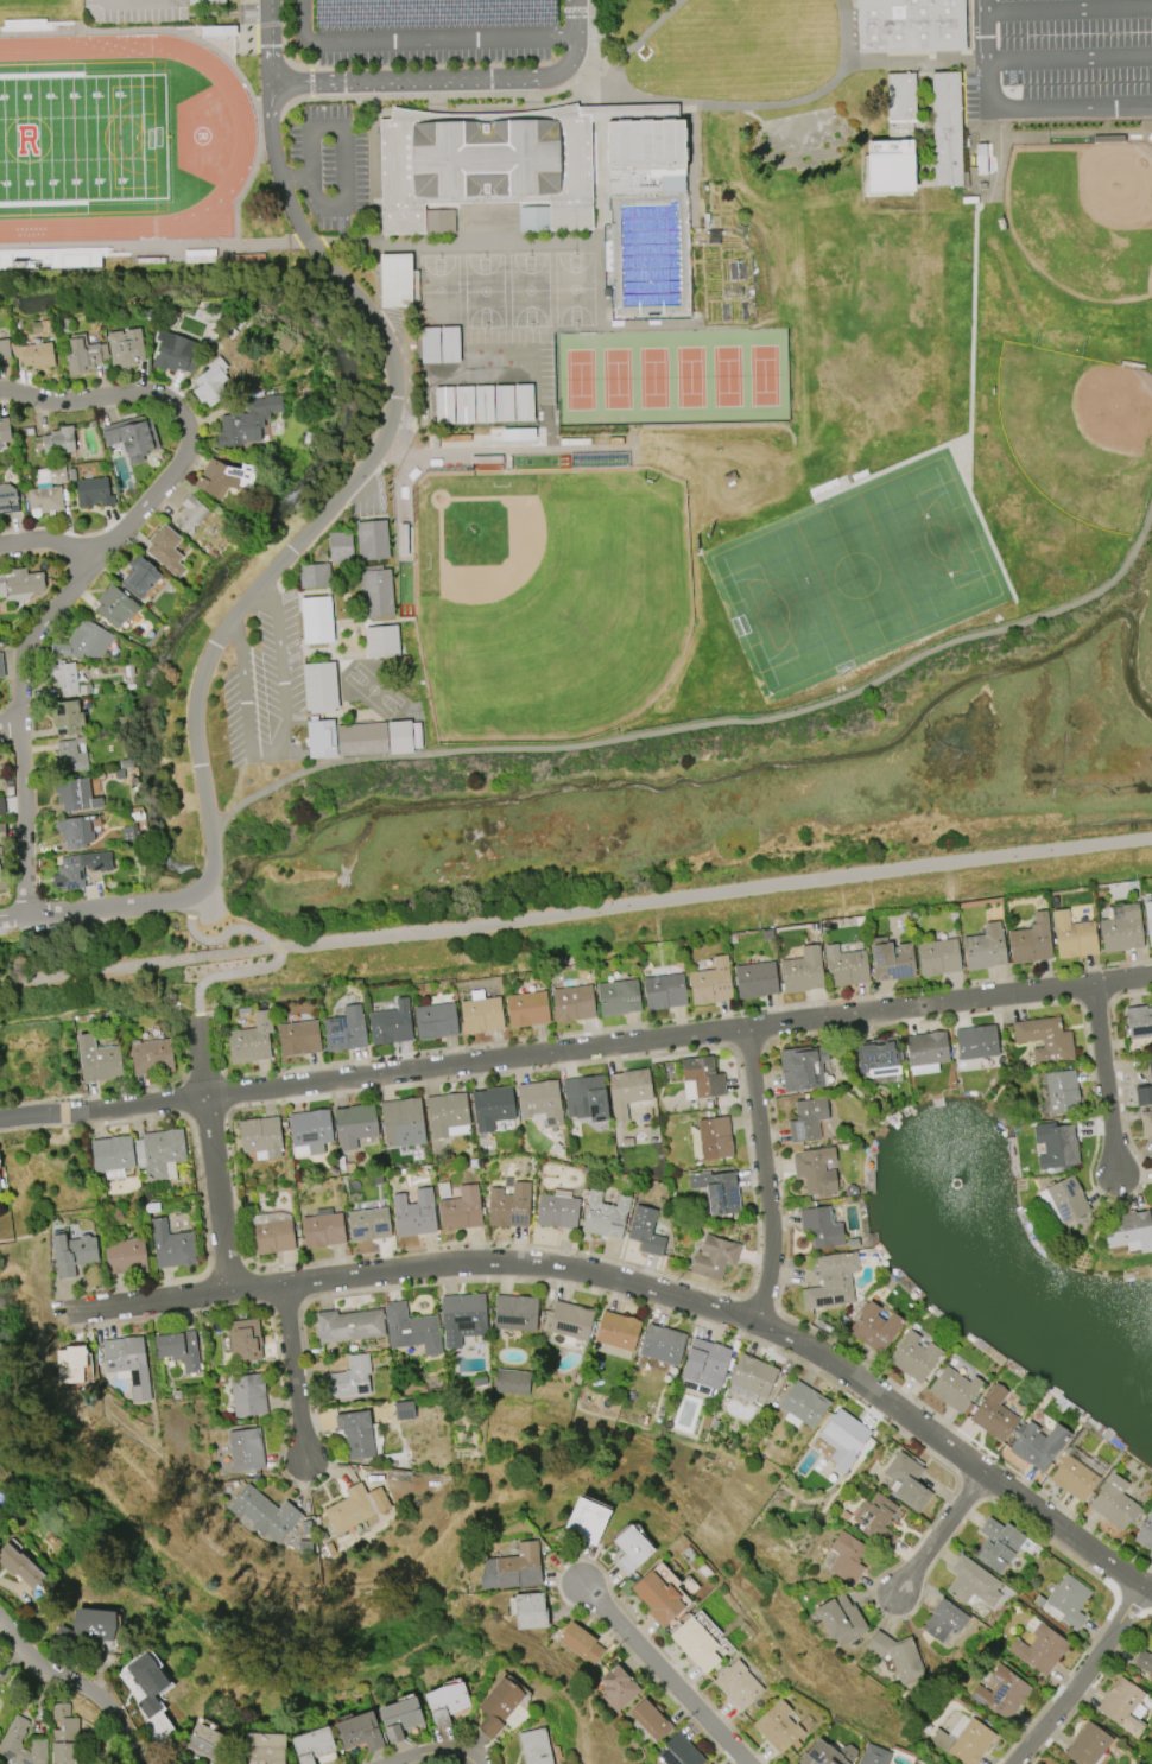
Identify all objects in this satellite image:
building: (204, 0)
road: (1068, 7)
parking lot: (133, 12)
building: (432, 12)
road: (452, 12)
building: (910, 24)
road: (983, 28)
parking lot: (428, 30)
road: (422, 36)
road: (270, 40)
road: (281, 44)
road: (1069, 53)
parking lot: (1059, 58)
road: (454, 80)
road: (310, 83)
road: (464, 94)
road: (1049, 108)
building: (947, 129)
track: (243, 132)
park: (82, 138)
road: (341, 138)
building: (895, 138)
building: (645, 157)
building: (981, 158)
building: (485, 161)
park: (1083, 214)
park: (438, 274)
building: (394, 280)
park: (574, 288)
park: (528, 290)
park: (483, 291)
building: (439, 344)
building: (286, 345)
building: (125, 348)
building: (4, 349)
road: (444, 350)
building: (173, 353)
building: (33, 354)
building: (83, 355)
park: (764, 375)
parking lot: (495, 376)
park: (690, 376)
park: (726, 376)
park: (653, 377)
park: (580, 379)
park: (615, 379)
building: (210, 382)
building: (513, 402)
building: (463, 405)
building: (246, 423)
park: (1080, 429)
building: (4, 430)
building: (131, 437)
building: (58, 442)
road: (493, 448)
building: (49, 475)
building: (223, 478)
building: (93, 493)
building: (7, 500)
building: (44, 500)
building: (190, 514)
building: (373, 538)
road: (46, 541)
building: (341, 544)
building: (165, 550)
road: (286, 553)
road: (89, 561)
building: (315, 573)
park: (855, 576)
building: (138, 577)
building: (20, 584)
building: (376, 590)
park: (547, 596)
building: (114, 607)
building: (317, 618)
building: (382, 639)
building: (84, 641)
building: (1, 666)
building: (64, 678)
parking lot: (265, 686)
building: (321, 686)
road: (7, 718)
building: (68, 718)
road: (708, 723)
road: (279, 736)
building: (400, 736)
building: (322, 737)
building: (361, 737)
building: (69, 759)
building: (75, 795)
building: (1, 807)
building: (75, 831)
building: (1, 832)
building: (75, 871)
building: (1, 875)
road: (194, 906)
road: (575, 908)
road: (14, 918)
building: (1147, 921)
building: (1121, 931)
road: (224, 934)
building: (1071, 937)
building: (1030, 940)
road: (276, 946)
building: (983, 948)
building: (937, 956)
building: (890, 960)
building: (843, 966)
building: (802, 971)
road: (226, 975)
building: (755, 979)
building: (710, 983)
road: (1126, 984)
building: (663, 991)
building: (618, 998)
building: (572, 1003)
building: (526, 1009)
building: (479, 1013)
road: (688, 1017)
road: (190, 1019)
building: (433, 1020)
building: (1138, 1022)
building: (388, 1024)
building: (343, 1030)
road: (216, 1035)
building: (297, 1038)
building: (1044, 1039)
building: (249, 1040)
building: (975, 1042)
road: (183, 1048)
building: (924, 1052)
road: (549, 1055)
building: (876, 1057)
building: (152, 1058)
building: (97, 1061)
building: (800, 1067)
road: (203, 1075)
building: (700, 1079)
road: (1109, 1084)
building: (1145, 1087)
building: (627, 1091)
building: (1062, 1091)
road: (226, 1092)
road: (91, 1093)
road: (183, 1098)
building: (582, 1098)
building: (538, 1102)
building: (492, 1106)
building: (445, 1112)
road: (207, 1115)
building: (400, 1118)
building: (806, 1119)
building: (1145, 1123)
building: (354, 1124)
road: (93, 1125)
building: (309, 1130)
building: (261, 1136)
building: (713, 1137)
building: (1055, 1146)
building: (159, 1153)
road: (211, 1155)
building: (112, 1156)
building: (812, 1174)
road: (765, 1178)
building: (0, 1189)
building: (715, 1192)
building: (1063, 1201)
building: (507, 1206)
building: (460, 1210)
building: (556, 1210)
road: (204, 1213)
building: (602, 1216)
building: (414, 1217)
building: (368, 1224)
building: (819, 1227)
building: (322, 1229)
building: (645, 1231)
building: (1128, 1232)
building: (270, 1233)
road: (470, 1243)
building: (171, 1245)
building: (72, 1254)
building: (125, 1257)
building: (713, 1257)
building: (830, 1282)
road: (109, 1287)
road: (146, 1301)
road: (729, 1313)
building: (514, 1314)
building: (461, 1318)
building: (569, 1320)
road: (696, 1322)
building: (348, 1325)
building: (872, 1328)
building: (410, 1330)
building: (614, 1334)
building: (243, 1340)
building: (662, 1344)
building: (179, 1349)
building: (912, 1357)
building: (704, 1363)
building: (69, 1364)
building: (128, 1364)
road: (292, 1371)
building: (752, 1376)
building: (349, 1378)
building: (512, 1382)
building: (951, 1389)
building: (248, 1395)
building: (803, 1406)
building: (404, 1410)
building: (992, 1414)
building: (355, 1434)
building: (844, 1436)
building: (1037, 1445)
building: (246, 1449)
building: (1072, 1479)
building: (905, 1483)
building: (378, 1500)
building: (1114, 1504)
building: (352, 1509)
building: (267, 1515)
building: (875, 1519)
building: (578, 1522)
building: (1145, 1533)
road: (938, 1535)
building: (998, 1546)
building: (626, 1550)
building: (846, 1557)
road: (574, 1559)
building: (18, 1566)
building: (508, 1568)
building: (973, 1582)
building: (660, 1598)
building: (1065, 1603)
building: (526, 1611)
building: (840, 1619)
building: (944, 1620)
building: (89, 1627)
building: (580, 1643)
building: (698, 1644)
building: (1039, 1650)
building: (898, 1656)
building: (1144, 1661)
road: (662, 1674)
road: (1080, 1677)
building: (145, 1682)
road: (81, 1684)
building: (741, 1686)
road: (1091, 1686)
building: (618, 1688)
building: (1002, 1694)
building: (449, 1703)
building: (1123, 1706)
building: (500, 1707)
building: (401, 1718)
building: (650, 1720)
building: (780, 1726)
building: (63, 1732)
building: (359, 1732)
building: (11, 1739)
building: (205, 1740)
building: (963, 1740)
building: (310, 1744)
building: (1088, 1745)
building: (537, 1746)
building: (261, 1747)
road: (433, 1751)
building: (677, 1752)
building: (821, 1755)
building: (873, 1755)
building: (76, 1763)

